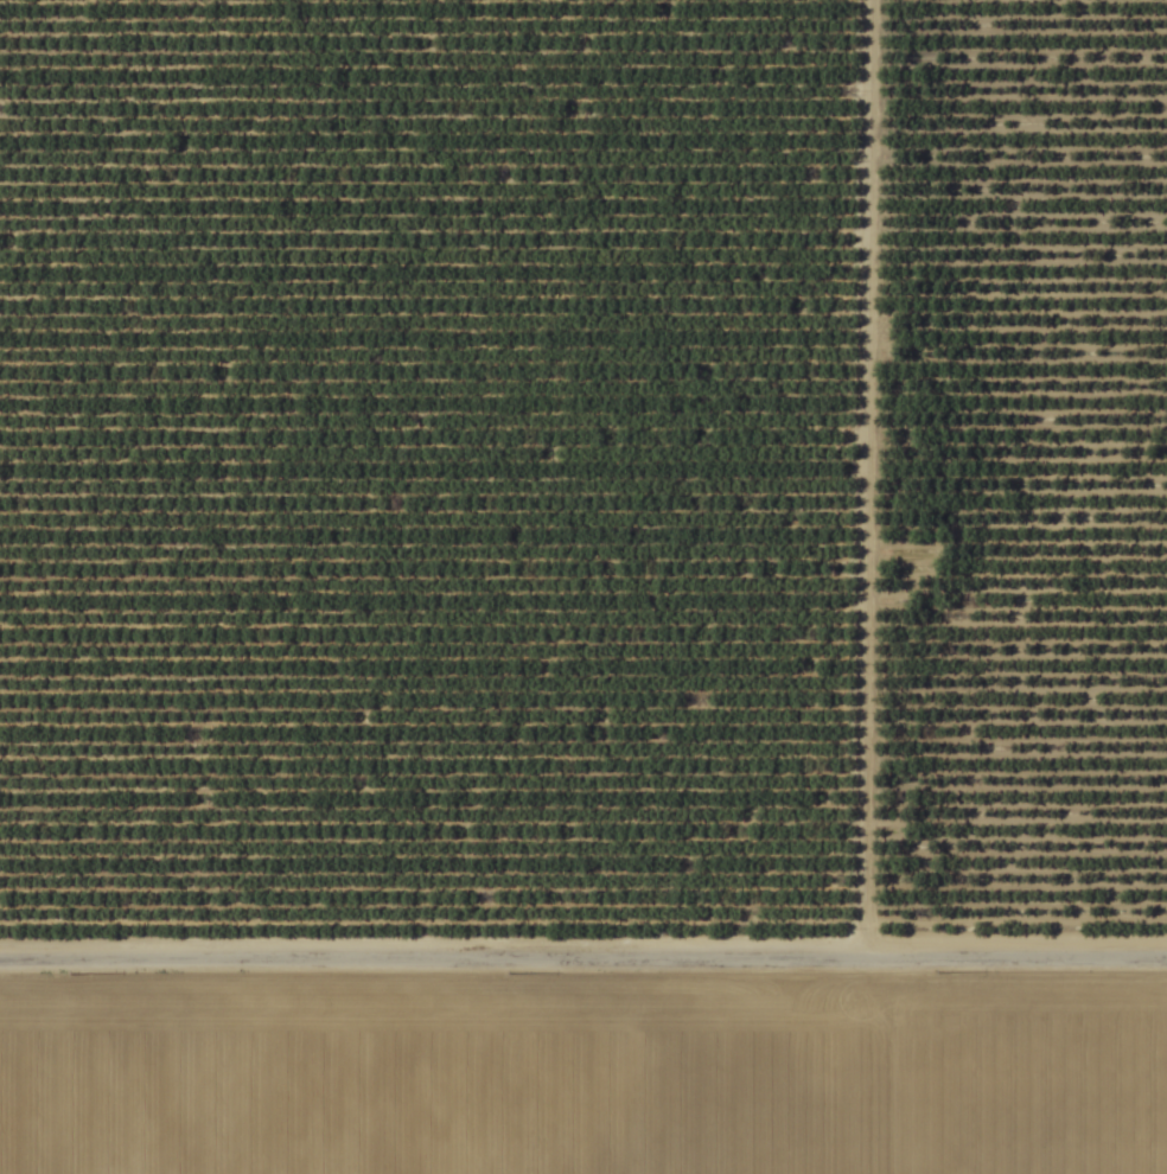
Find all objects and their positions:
road: (583, 953)

